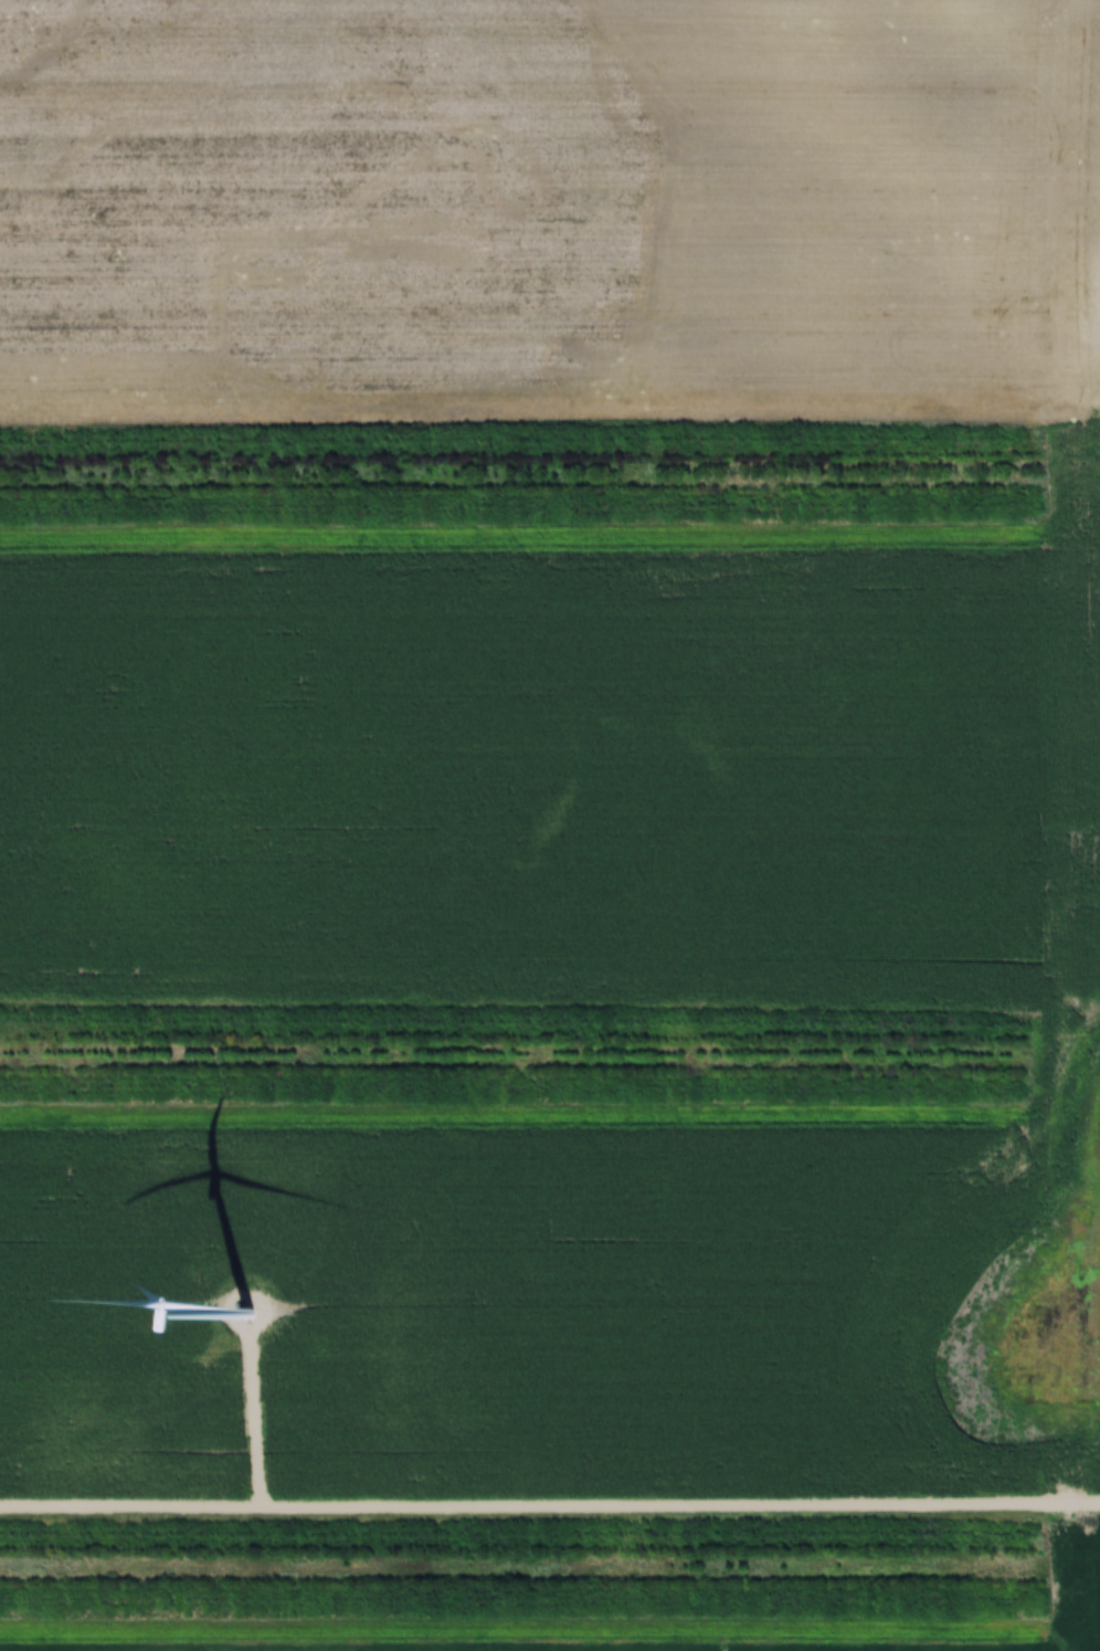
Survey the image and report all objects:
wind turbine: (242, 1319)
road: (550, 1503)

